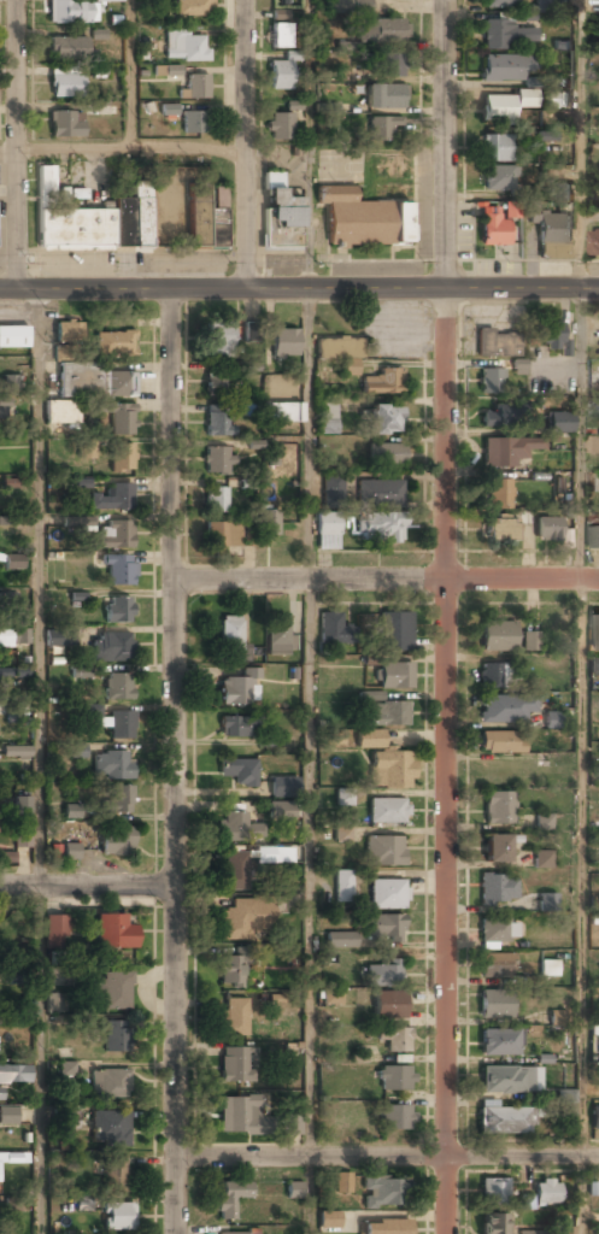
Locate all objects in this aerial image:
building: (107, 1)
building: (500, 4)
building: (348, 6)
building: (193, 8)
building: (69, 12)
building: (281, 30)
building: (381, 33)
building: (509, 35)
building: (186, 47)
building: (67, 49)
building: (383, 65)
building: (503, 69)
building: (174, 70)
road: (130, 75)
building: (281, 75)
building: (65, 86)
building: (194, 88)
building: (384, 98)
building: (527, 98)
building: (556, 98)
building: (328, 108)
building: (498, 108)
building: (169, 110)
building: (193, 123)
building: (65, 125)
building: (280, 127)
building: (383, 129)
road: (16, 145)
road: (245, 145)
road: (307, 145)
road: (579, 145)
building: (495, 148)
road: (123, 149)
building: (386, 169)
building: (498, 180)
building: (560, 192)
building: (512, 210)
building: (280, 215)
building: (207, 217)
building: (365, 217)
building: (94, 218)
building: (494, 225)
building: (552, 235)
building: (594, 243)
road: (299, 290)
building: (252, 331)
building: (67, 334)
building: (551, 336)
building: (13, 337)
building: (219, 341)
building: (113, 342)
building: (284, 343)
building: (498, 345)
building: (339, 349)
building: (518, 366)
building: (10, 382)
building: (95, 382)
building: (491, 382)
building: (383, 383)
building: (218, 386)
building: (4, 407)
building: (594, 407)
building: (60, 412)
building: (283, 413)
building: (329, 416)
building: (503, 417)
building: (121, 421)
building: (382, 421)
building: (559, 423)
building: (218, 424)
building: (593, 443)
building: (84, 448)
building: (507, 451)
building: (384, 454)
building: (121, 458)
building: (216, 462)
building: (10, 483)
building: (598, 483)
building: (333, 489)
building: (380, 493)
building: (498, 494)
building: (112, 499)
building: (216, 501)
building: (5, 521)
building: (77, 523)
building: (268, 524)
building: (381, 528)
building: (503, 529)
building: (548, 529)
building: (327, 531)
building: (223, 535)
building: (112, 536)
building: (593, 537)
building: (13, 562)
building: (119, 571)
road: (386, 581)
building: (118, 610)
road: (444, 617)
building: (334, 630)
building: (395, 631)
building: (594, 631)
building: (230, 633)
building: (13, 636)
building: (58, 636)
building: (498, 637)
building: (278, 639)
building: (529, 641)
building: (113, 647)
building: (598, 665)
building: (13, 672)
building: (80, 672)
building: (493, 675)
building: (395, 676)
building: (118, 687)
building: (237, 688)
building: (0, 693)
building: (504, 709)
building: (92, 711)
building: (13, 715)
building: (386, 715)
building: (552, 719)
road: (309, 722)
building: (121, 725)
road: (581, 725)
building: (235, 728)
building: (333, 739)
building: (370, 740)
building: (501, 742)
building: (76, 751)
building: (17, 753)
road: (39, 762)
road: (171, 762)
building: (112, 766)
building: (389, 770)
building: (237, 772)
building: (598, 772)
building: (283, 787)
building: (343, 797)
building: (118, 800)
building: (23, 805)
building: (498, 809)
building: (281, 810)
building: (71, 811)
building: (387, 811)
building: (542, 823)
building: (235, 828)
building: (22, 835)
building: (342, 835)
building: (117, 841)
building: (495, 850)
building: (70, 851)
building: (384, 852)
building: (54, 853)
building: (274, 854)
building: (542, 858)
building: (234, 871)
road: (84, 886)
building: (342, 887)
building: (498, 889)
building: (387, 895)
building: (547, 903)
building: (245, 918)
building: (384, 927)
building: (52, 929)
building: (114, 930)
building: (497, 933)
building: (341, 940)
building: (495, 966)
building: (548, 968)
building: (230, 972)
building: (382, 974)
building: (114, 989)
building: (333, 997)
building: (53, 1004)
building: (495, 1005)
building: (389, 1006)
building: (234, 1017)
building: (557, 1017)
building: (113, 1036)
building: (394, 1040)
building: (499, 1041)
building: (234, 1065)
building: (66, 1068)
building: (14, 1075)
building: (394, 1079)
building: (504, 1080)
building: (110, 1083)
building: (0, 1093)
building: (565, 1097)
building: (237, 1115)
building: (8, 1116)
building: (395, 1118)
building: (595, 1118)
building: (61, 1120)
building: (504, 1121)
building: (290, 1124)
building: (110, 1128)
road: (378, 1156)
building: (12, 1158)
road: (591, 1160)
building: (114, 1174)
building: (342, 1183)
building: (293, 1189)
building: (494, 1191)
building: (380, 1193)
building: (546, 1193)
building: (230, 1199)
building: (525, 1201)
building: (84, 1203)
building: (13, 1204)
building: (118, 1216)
building: (329, 1221)
building: (494, 1224)
building: (386, 1228)
building: (532, 1232)
building: (233, 1233)

